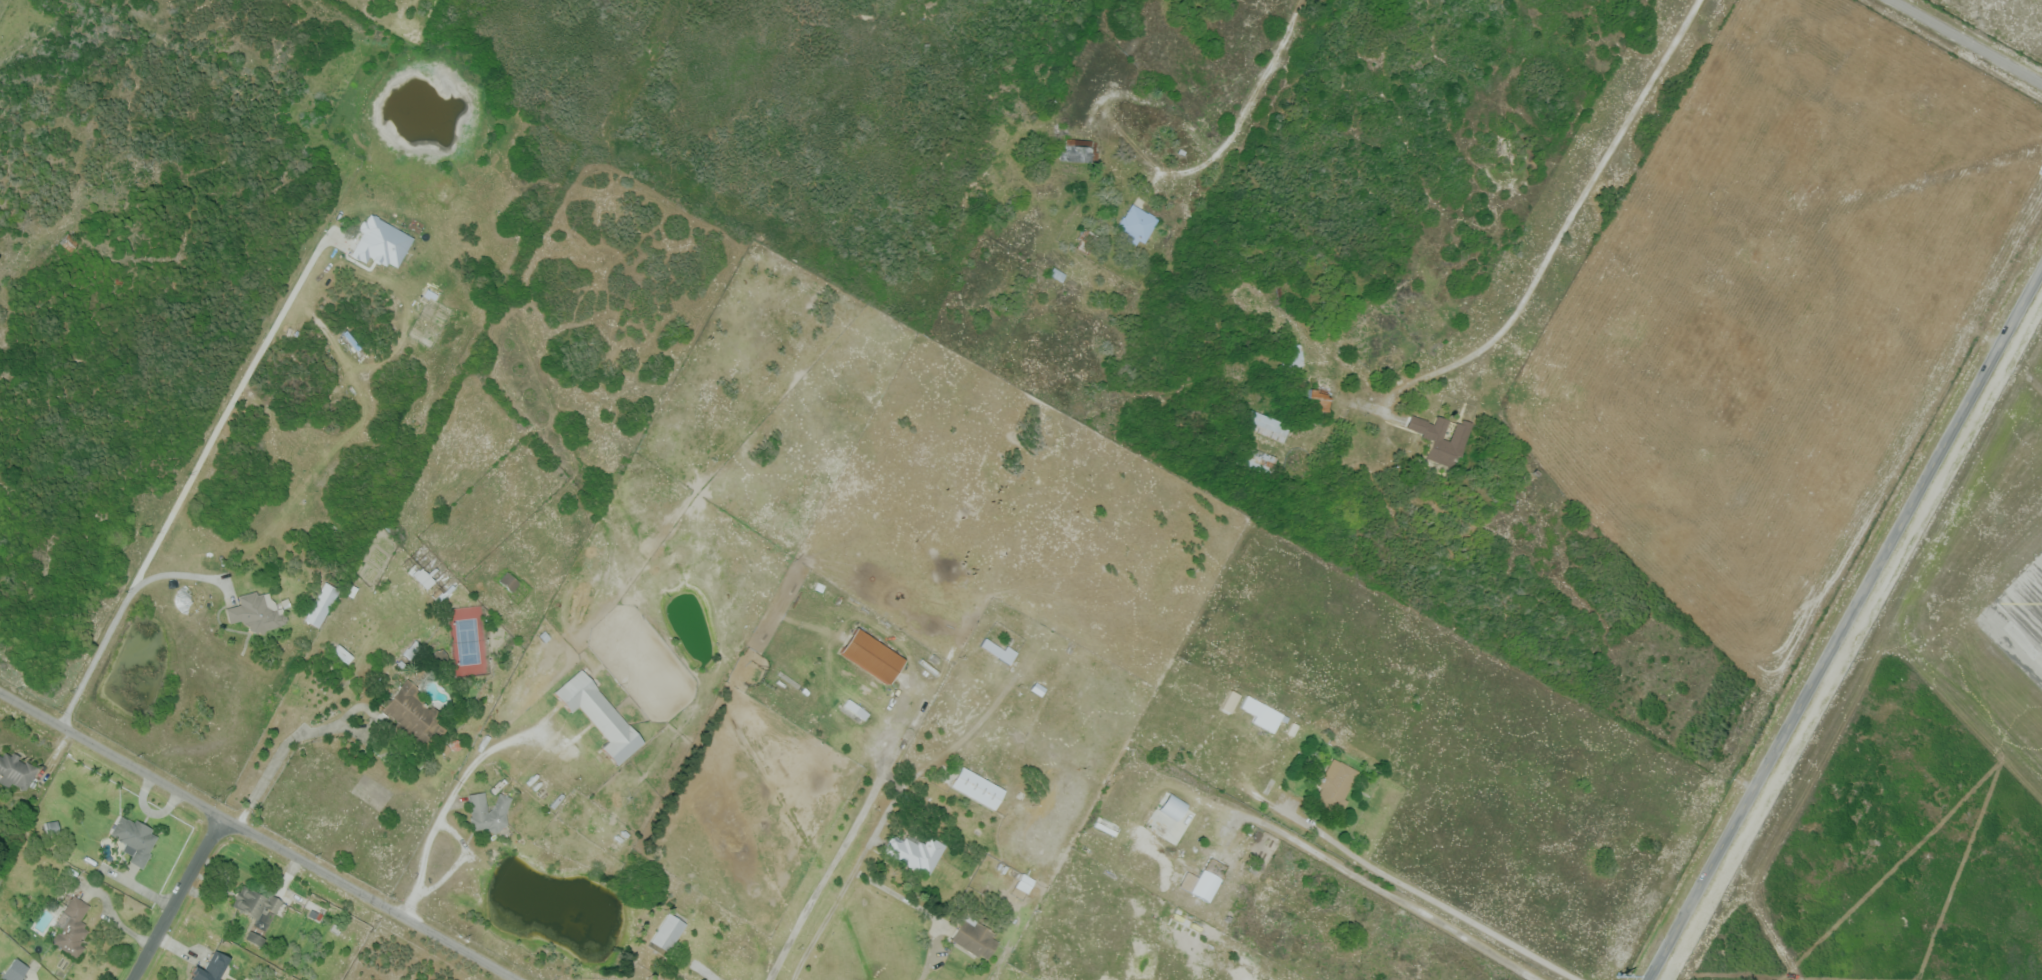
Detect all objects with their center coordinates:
road: (1959, 47)
road: (1016, 98)
building: (1079, 150)
building: (1136, 224)
building: (1086, 240)
building: (380, 242)
building: (69, 243)
building: (1291, 355)
building: (1321, 394)
building: (1442, 438)
building: (1239, 444)
road: (192, 476)
road: (180, 574)
building: (429, 577)
building: (509, 581)
building: (322, 604)
building: (255, 614)
road: (1844, 625)
building: (995, 648)
building: (872, 655)
building: (1036, 689)
building: (1231, 700)
building: (854, 709)
building: (1262, 713)
building: (414, 715)
building: (599, 715)
road: (277, 756)
airport: (1918, 756)
building: (16, 771)
building: (1335, 786)
building: (977, 788)
building: (488, 812)
building: (1167, 815)
building: (1204, 824)
building: (50, 825)
road: (257, 836)
building: (134, 839)
building: (916, 852)
road: (836, 860)
building: (1025, 883)
building: (1200, 884)
road: (178, 899)
road: (837, 901)
building: (256, 903)
building: (71, 927)
building: (667, 935)
building: (253, 938)
building: (976, 939)
road: (935, 953)
building: (210, 968)
building: (14, 970)

